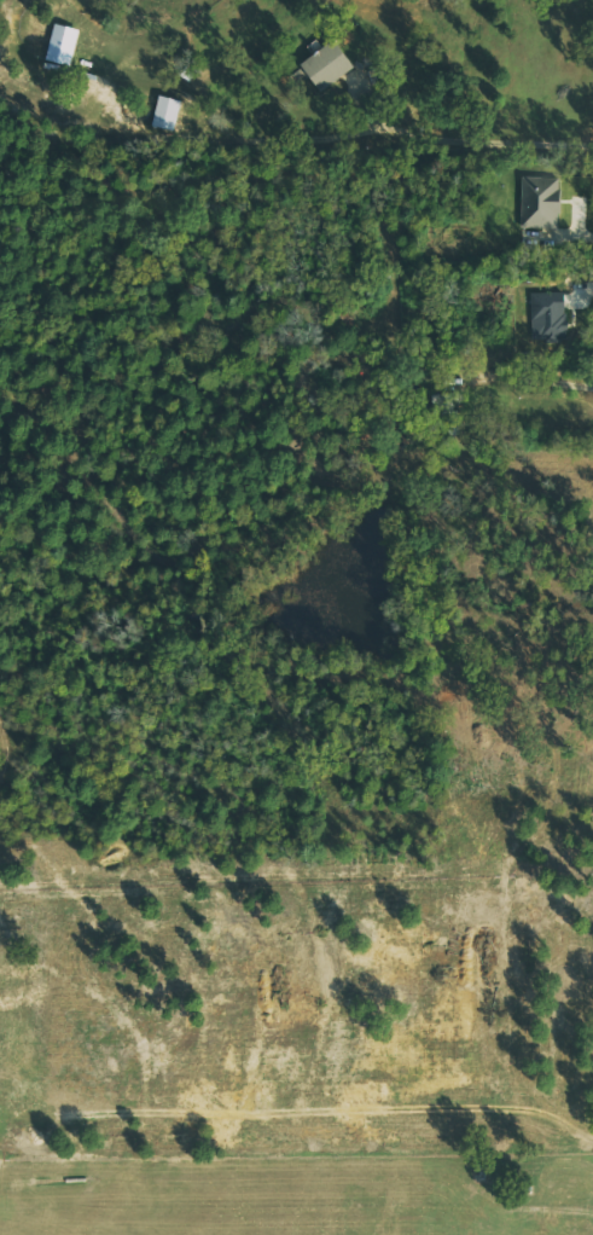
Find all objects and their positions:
building: (62, 44)
building: (325, 64)
building: (167, 112)
building: (540, 202)
building: (550, 315)

